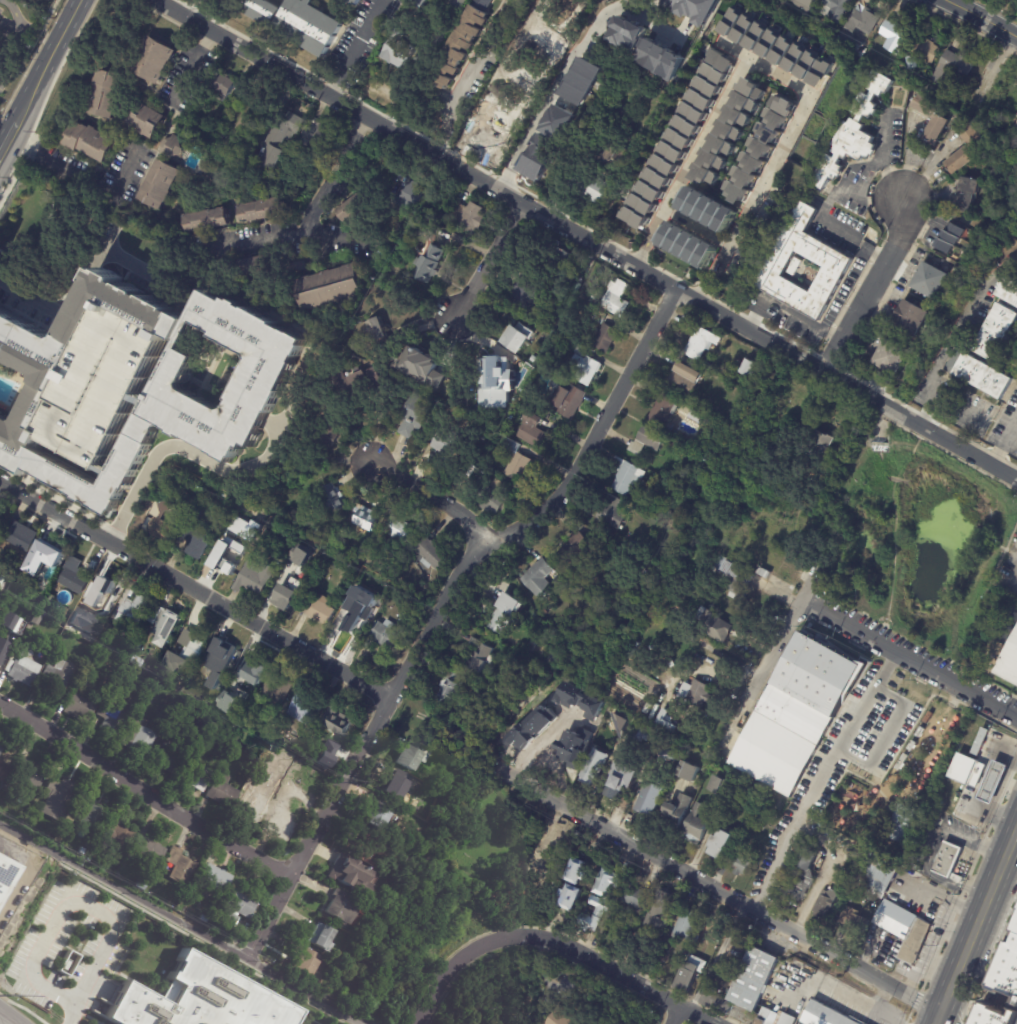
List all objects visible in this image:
building: (459, 2)
building: (352, 3)
building: (417, 4)
building: (807, 5)
building: (691, 9)
building: (836, 9)
building: (260, 10)
road: (983, 18)
building: (864, 21)
road: (15, 24)
building: (309, 25)
building: (743, 29)
building: (626, 33)
building: (895, 36)
building: (729, 43)
building: (460, 44)
building: (399, 47)
road: (354, 48)
building: (927, 51)
building: (795, 58)
building: (155, 59)
building: (659, 59)
building: (724, 60)
building: (913, 61)
road: (566, 62)
road: (187, 66)
building: (952, 69)
road: (39, 72)
road: (465, 75)
road: (778, 76)
building: (581, 81)
building: (224, 84)
building: (519, 85)
building: (707, 85)
building: (932, 89)
building: (105, 93)
building: (750, 100)
road: (471, 112)
building: (694, 113)
building: (932, 116)
building: (251, 117)
building: (741, 117)
building: (779, 117)
building: (147, 120)
building: (557, 122)
building: (1015, 124)
building: (858, 132)
road: (706, 135)
building: (220, 136)
building: (315, 136)
building: (90, 141)
building: (276, 142)
building: (171, 146)
building: (758, 148)
building: (968, 149)
building: (538, 156)
building: (617, 157)
road: (883, 158)
building: (716, 161)
building: (750, 163)
road: (770, 169)
road: (326, 172)
building: (663, 172)
building: (790, 173)
road: (80, 179)
building: (158, 184)
building: (593, 187)
building: (739, 191)
building: (968, 192)
building: (416, 193)
building: (708, 208)
road: (825, 208)
building: (260, 210)
building: (354, 210)
building: (465, 216)
building: (204, 220)
road: (659, 224)
road: (698, 228)
road: (282, 233)
road: (585, 237)
building: (951, 237)
building: (688, 243)
road: (644, 251)
building: (743, 252)
building: (0, 255)
road: (723, 259)
road: (489, 260)
building: (560, 261)
building: (432, 263)
building: (839, 263)
building: (303, 266)
building: (258, 267)
building: (797, 267)
road: (79, 276)
building: (932, 279)
road: (709, 286)
road: (870, 287)
building: (335, 288)
building: (1009, 288)
building: (523, 289)
building: (593, 298)
building: (617, 299)
road: (756, 312)
building: (599, 317)
building: (913, 317)
road: (811, 326)
building: (995, 331)
building: (383, 333)
road: (952, 333)
building: (518, 335)
building: (605, 339)
building: (702, 341)
building: (580, 350)
building: (59, 357)
building: (894, 357)
building: (536, 362)
building: (706, 363)
building: (748, 367)
building: (757, 367)
building: (586, 369)
building: (980, 373)
building: (267, 374)
building: (430, 374)
building: (712, 376)
building: (687, 377)
building: (504, 378)
building: (366, 382)
building: (102, 384)
parking garage: (102, 384)
building: (569, 400)
building: (718, 406)
building: (662, 410)
building: (420, 415)
building: (533, 430)
building: (141, 435)
building: (331, 436)
building: (648, 439)
building: (823, 442)
road: (1005, 444)
building: (448, 448)
building: (313, 457)
road: (198, 458)
building: (517, 462)
building: (626, 475)
road: (431, 493)
building: (333, 498)
building: (494, 498)
building: (611, 511)
building: (367, 520)
building: (2, 524)
building: (163, 525)
building: (242, 528)
building: (401, 532)
building: (22, 537)
building: (196, 542)
building: (574, 547)
building: (320, 554)
building: (431, 555)
building: (299, 556)
building: (49, 558)
building: (227, 561)
building: (733, 573)
building: (72, 577)
building: (540, 578)
building: (2, 579)
building: (254, 579)
building: (28, 581)
building: (109, 589)
road: (195, 591)
building: (289, 594)
building: (93, 599)
road: (983, 599)
road: (445, 604)
building: (135, 605)
building: (319, 610)
building: (506, 611)
building: (5, 616)
building: (118, 619)
building: (161, 621)
building: (2, 623)
building: (64, 623)
building: (348, 624)
building: (716, 624)
building: (32, 626)
building: (385, 635)
road: (879, 638)
building: (190, 642)
building: (137, 645)
road: (780, 647)
building: (4, 652)
building: (221, 653)
building: (478, 657)
building: (1007, 660)
building: (137, 662)
building: (637, 664)
building: (23, 669)
building: (248, 671)
building: (150, 672)
building: (635, 673)
building: (57, 679)
road: (989, 682)
building: (84, 685)
building: (451, 686)
building: (278, 690)
building: (698, 693)
road: (988, 697)
building: (226, 702)
building: (629, 706)
building: (648, 706)
building: (633, 708)
building: (80, 709)
building: (305, 709)
building: (797, 712)
road: (988, 717)
building: (110, 719)
building: (238, 721)
building: (666, 722)
building: (275, 724)
building: (623, 724)
building: (335, 725)
building: (574, 727)
road: (889, 733)
building: (642, 734)
building: (588, 735)
building: (139, 739)
road: (845, 739)
building: (982, 740)
building: (1, 749)
building: (547, 750)
building: (325, 753)
building: (412, 755)
building: (165, 759)
building: (596, 765)
building: (569, 767)
building: (278, 769)
building: (966, 770)
building: (3, 771)
building: (690, 771)
building: (29, 773)
building: (196, 777)
building: (252, 778)
building: (988, 779)
building: (401, 783)
building: (620, 784)
building: (719, 786)
road: (148, 792)
building: (223, 793)
building: (58, 797)
building: (257, 797)
building: (651, 797)
building: (678, 809)
building: (89, 815)
building: (380, 815)
building: (107, 819)
building: (281, 822)
building: (904, 823)
building: (698, 824)
building: (120, 834)
building: (722, 843)
road: (933, 847)
building: (81, 850)
building: (370, 851)
building: (147, 852)
building: (809, 858)
building: (949, 858)
building: (841, 860)
building: (744, 862)
building: (179, 865)
building: (538, 868)
road: (772, 868)
road: (824, 868)
building: (580, 870)
building: (352, 875)
building: (881, 875)
building: (782, 876)
building: (6, 877)
building: (213, 880)
building: (606, 882)
building: (140, 884)
building: (800, 885)
road: (718, 890)
road: (946, 894)
building: (573, 896)
building: (634, 897)
building: (828, 897)
road: (77, 905)
road: (983, 907)
building: (344, 909)
building: (234, 910)
building: (658, 911)
building: (201, 915)
building: (596, 916)
road: (185, 920)
building: (855, 921)
building: (691, 927)
building: (905, 929)
building: (638, 932)
building: (325, 938)
railway: (981, 941)
road: (871, 949)
road: (583, 954)
road: (715, 956)
building: (348, 959)
building: (67, 963)
building: (305, 965)
building: (688, 976)
building: (753, 979)
road: (836, 989)
building: (1003, 993)
building: (33, 995)
road: (435, 998)
building: (812, 998)
building: (198, 999)
building: (715, 1003)
road: (942, 1005)
road: (70, 1010)
road: (673, 1014)
road: (8, 1017)
building: (562, 1019)

